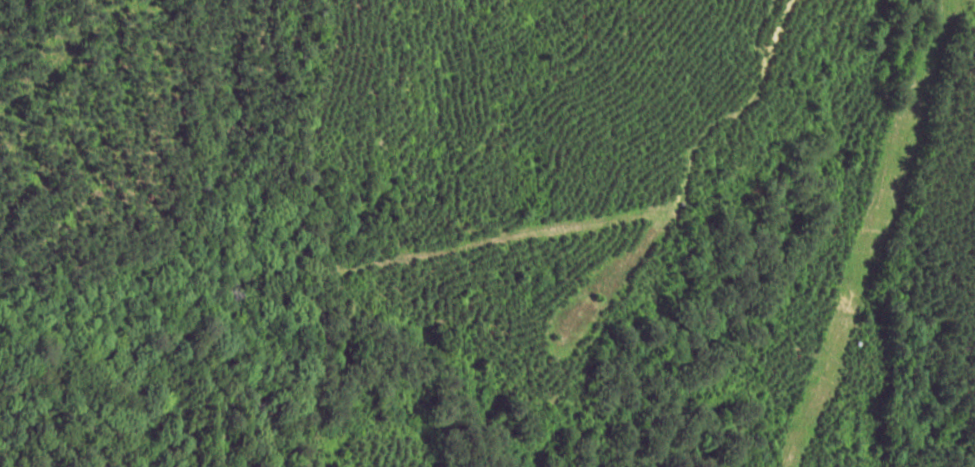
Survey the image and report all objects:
road: (956, 28)

